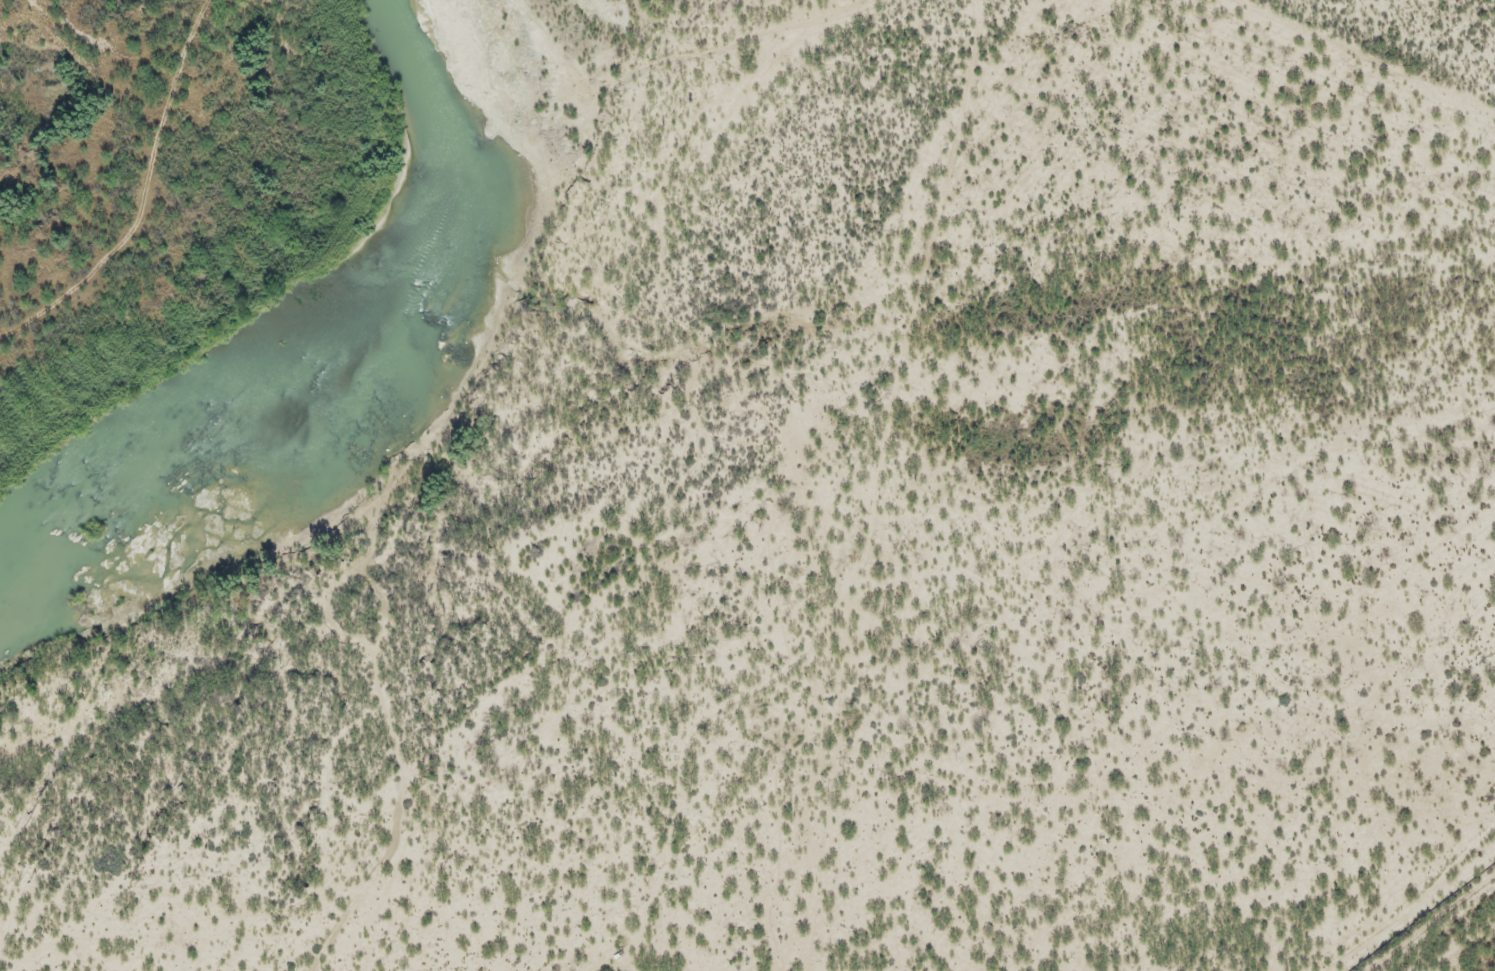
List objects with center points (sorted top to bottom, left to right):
river: (356, 387)

